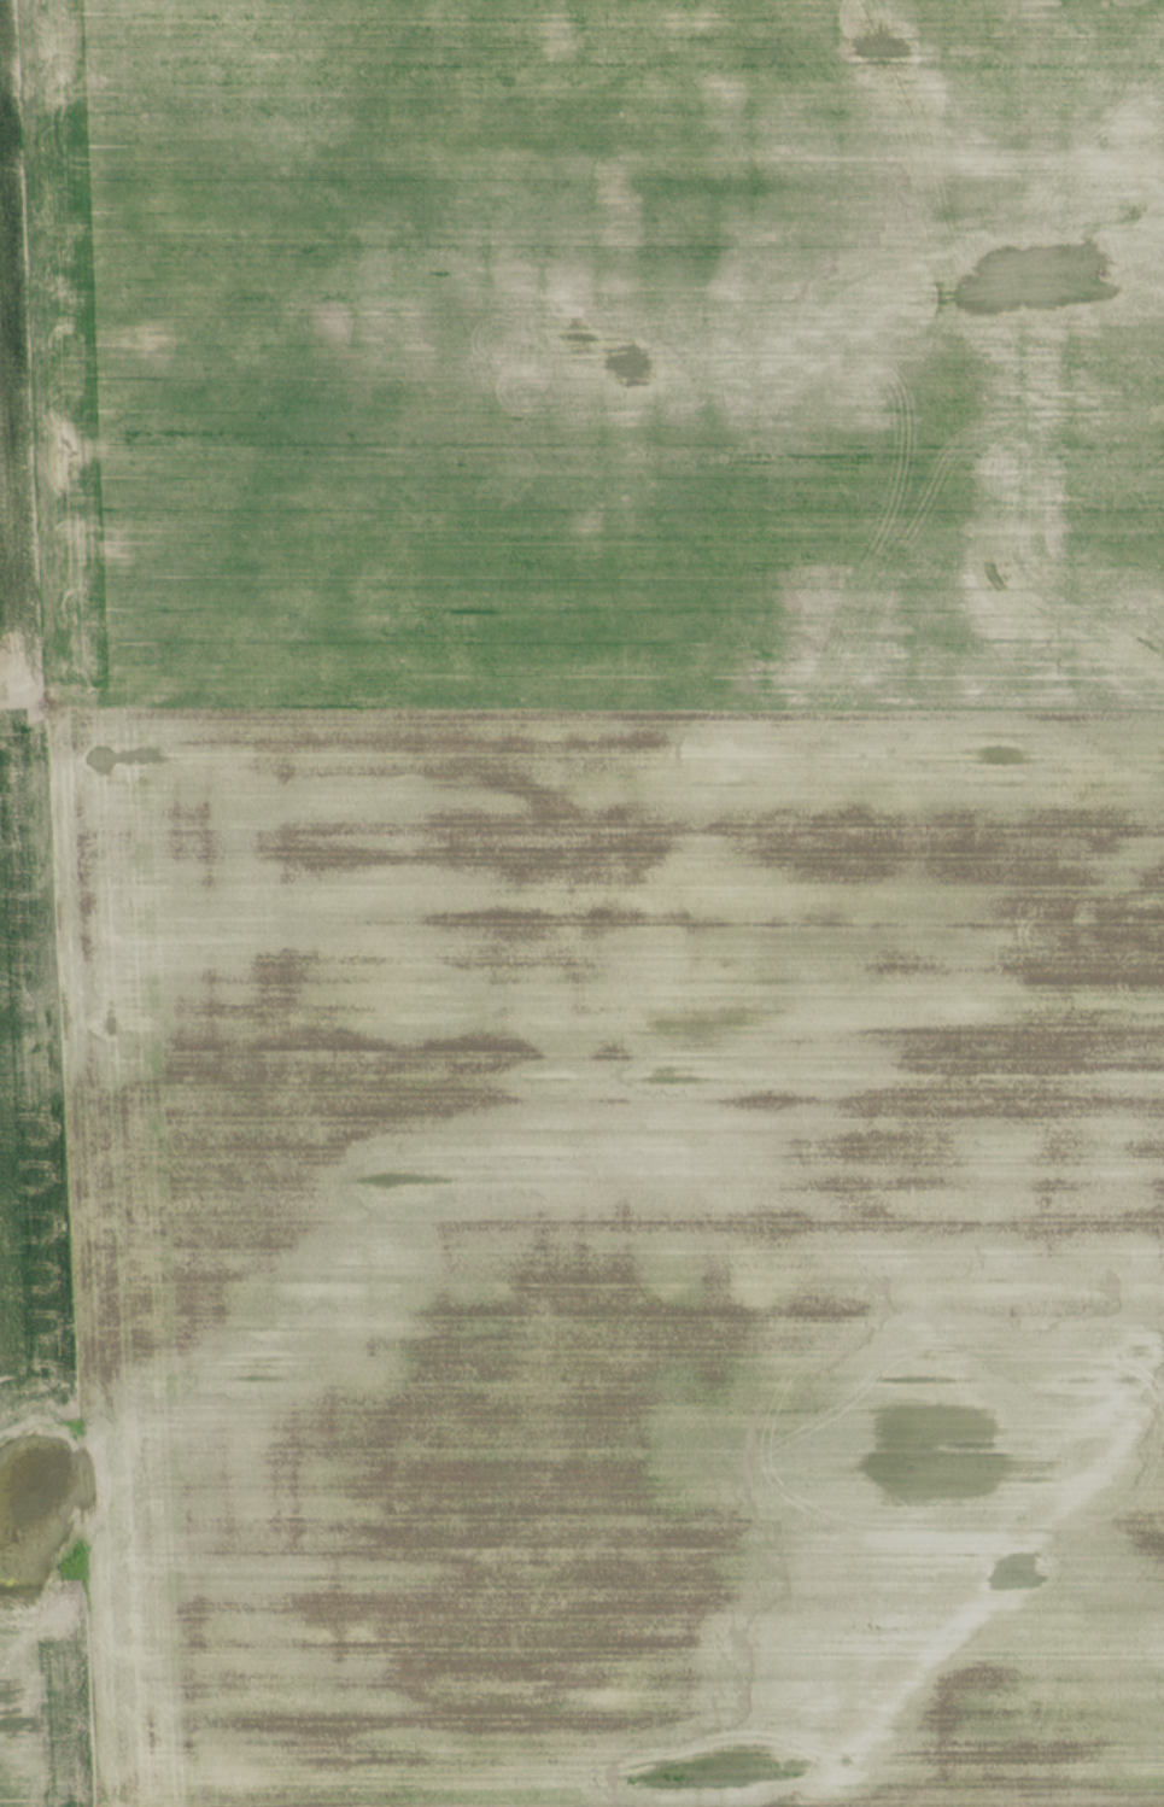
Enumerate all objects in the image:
crop: (596, 347)
crop: (13, 400)
crop: (28, 1076)
crop: (613, 1247)
crop: (45, 1726)

